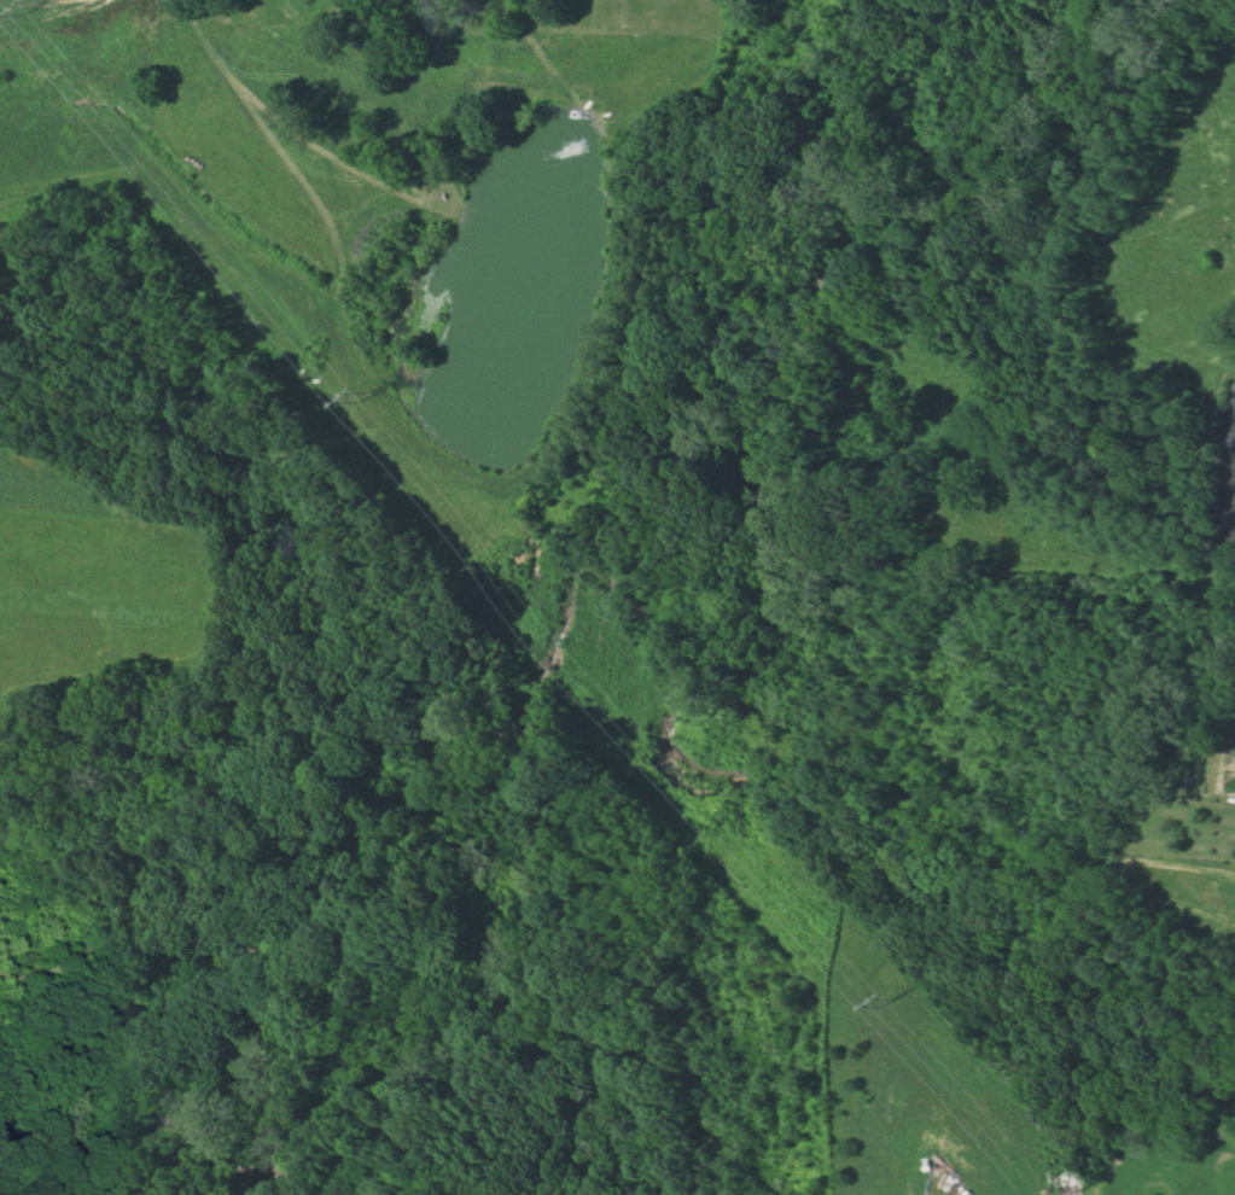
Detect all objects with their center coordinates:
power tower: (28, 14)
crop: (76, 103)
power tower: (365, 401)
crop: (46, 483)
crop: (107, 594)
crop: (1190, 893)
power tower: (898, 1010)
crop: (1176, 1179)

